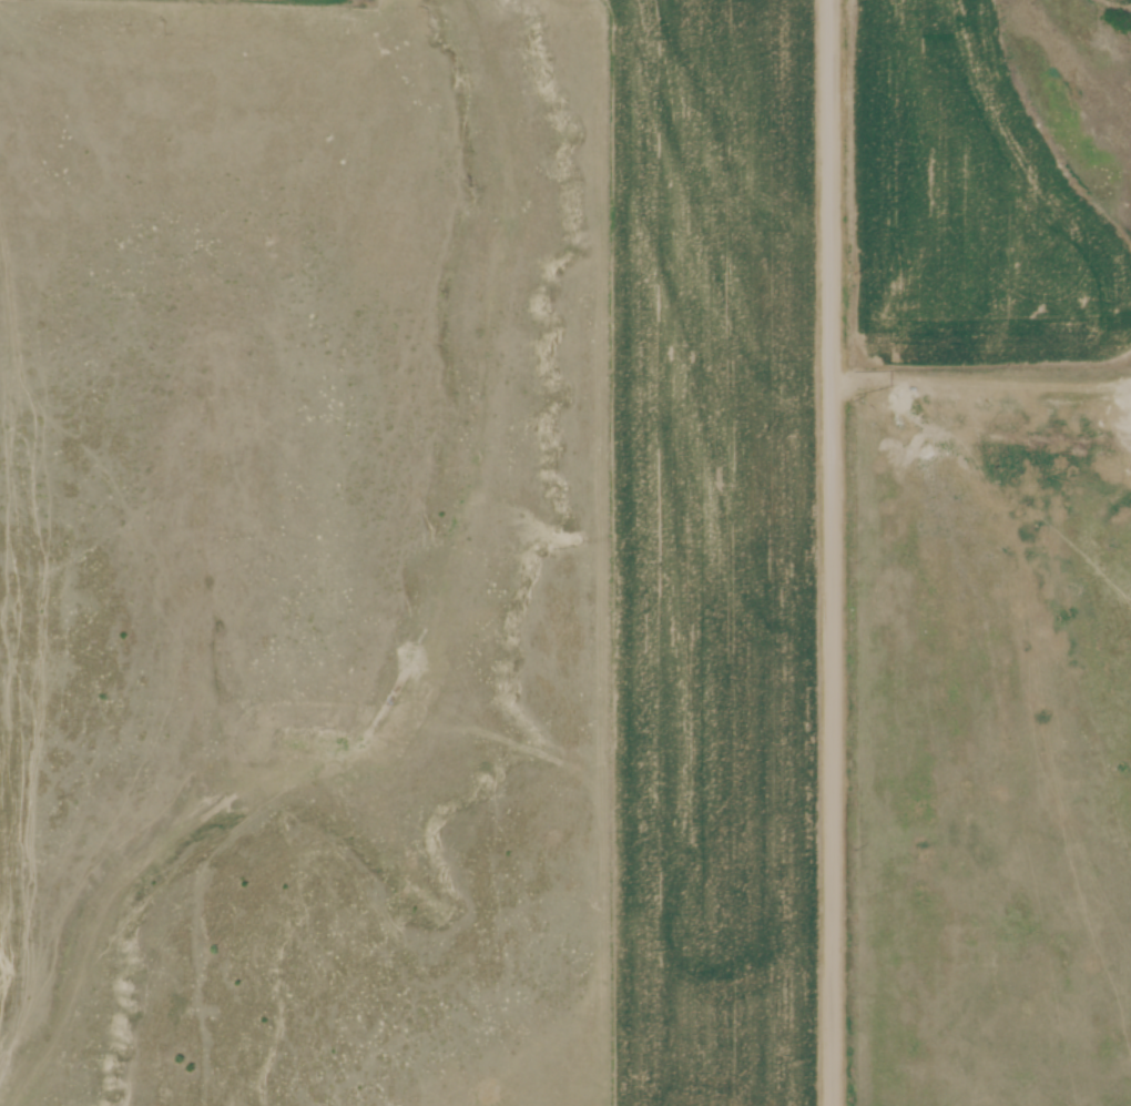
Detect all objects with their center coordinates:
road: (833, 552)

